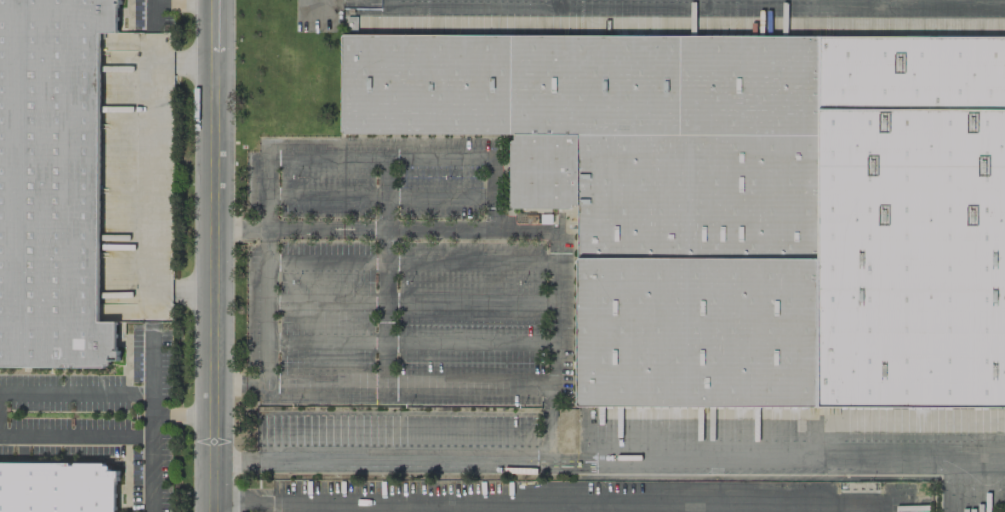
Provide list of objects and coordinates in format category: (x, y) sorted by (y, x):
road: (180, 3)
road: (182, 62)
road: (380, 156)
building: (51, 183)
road: (152, 198)
building: (743, 202)
road: (499, 230)
road: (212, 256)
road: (181, 293)
road: (265, 303)
road: (382, 381)
road: (76, 394)
road: (182, 414)
road: (75, 434)
road: (150, 452)
road: (608, 458)
building: (56, 487)
road: (545, 505)

